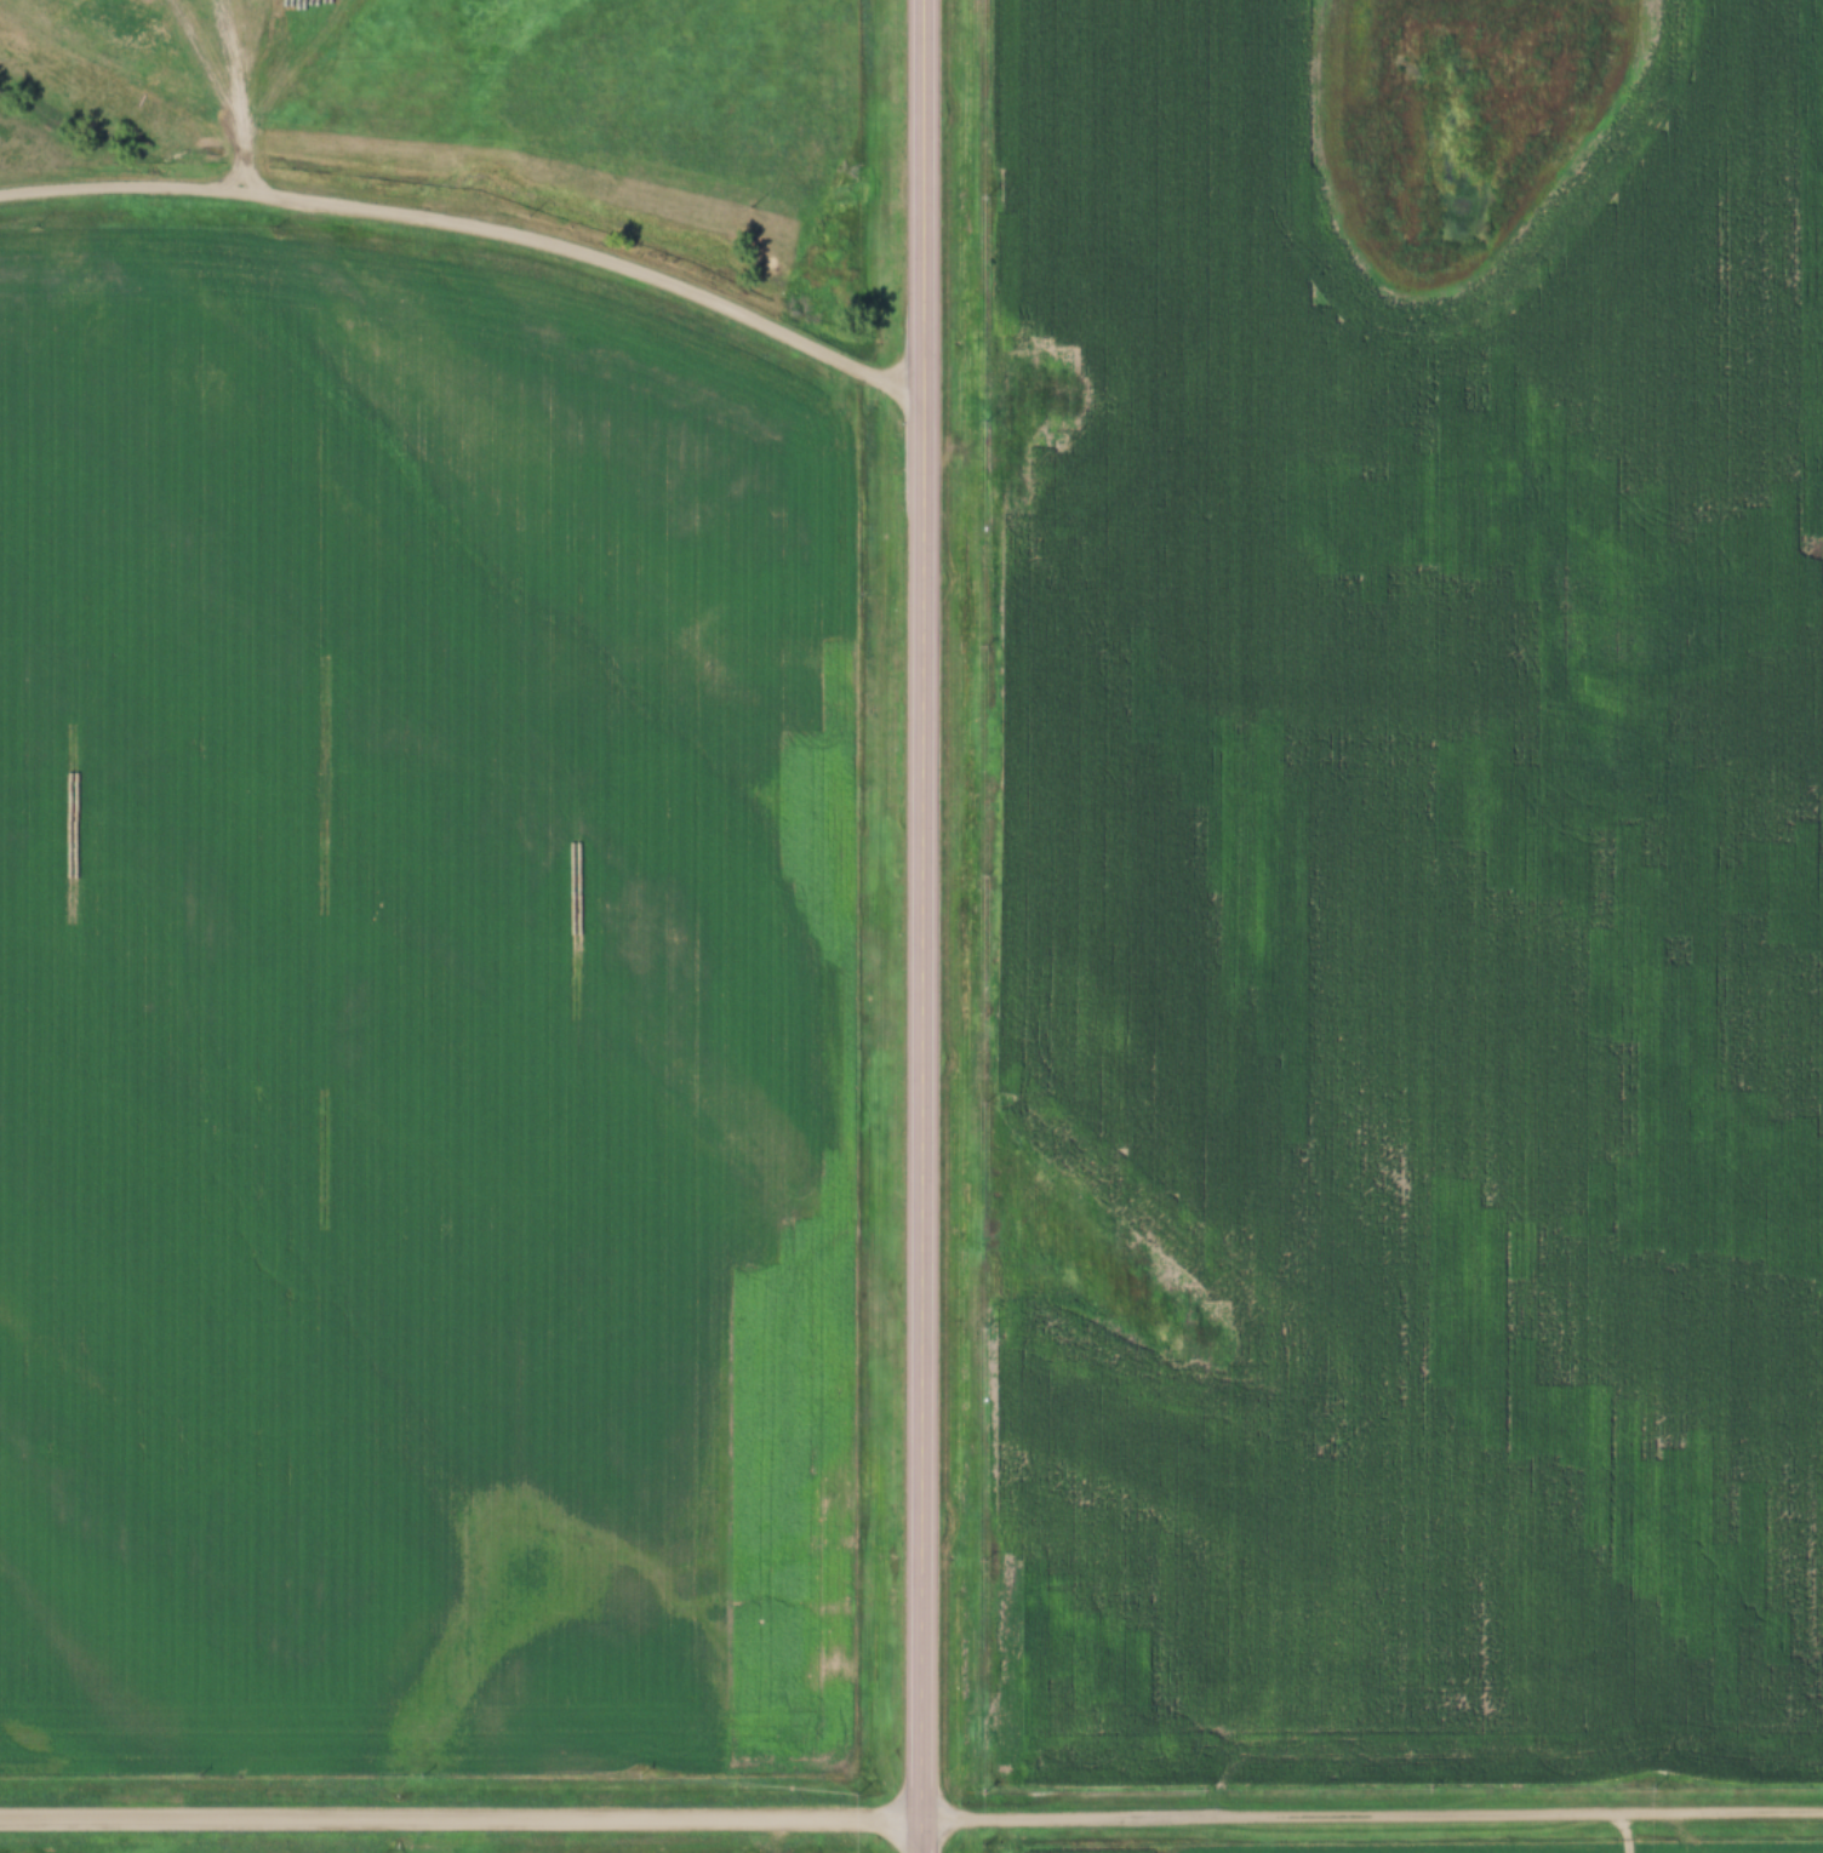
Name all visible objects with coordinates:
building: (1691, 377)
road: (925, 926)
road: (1373, 1819)
road: (462, 1820)

